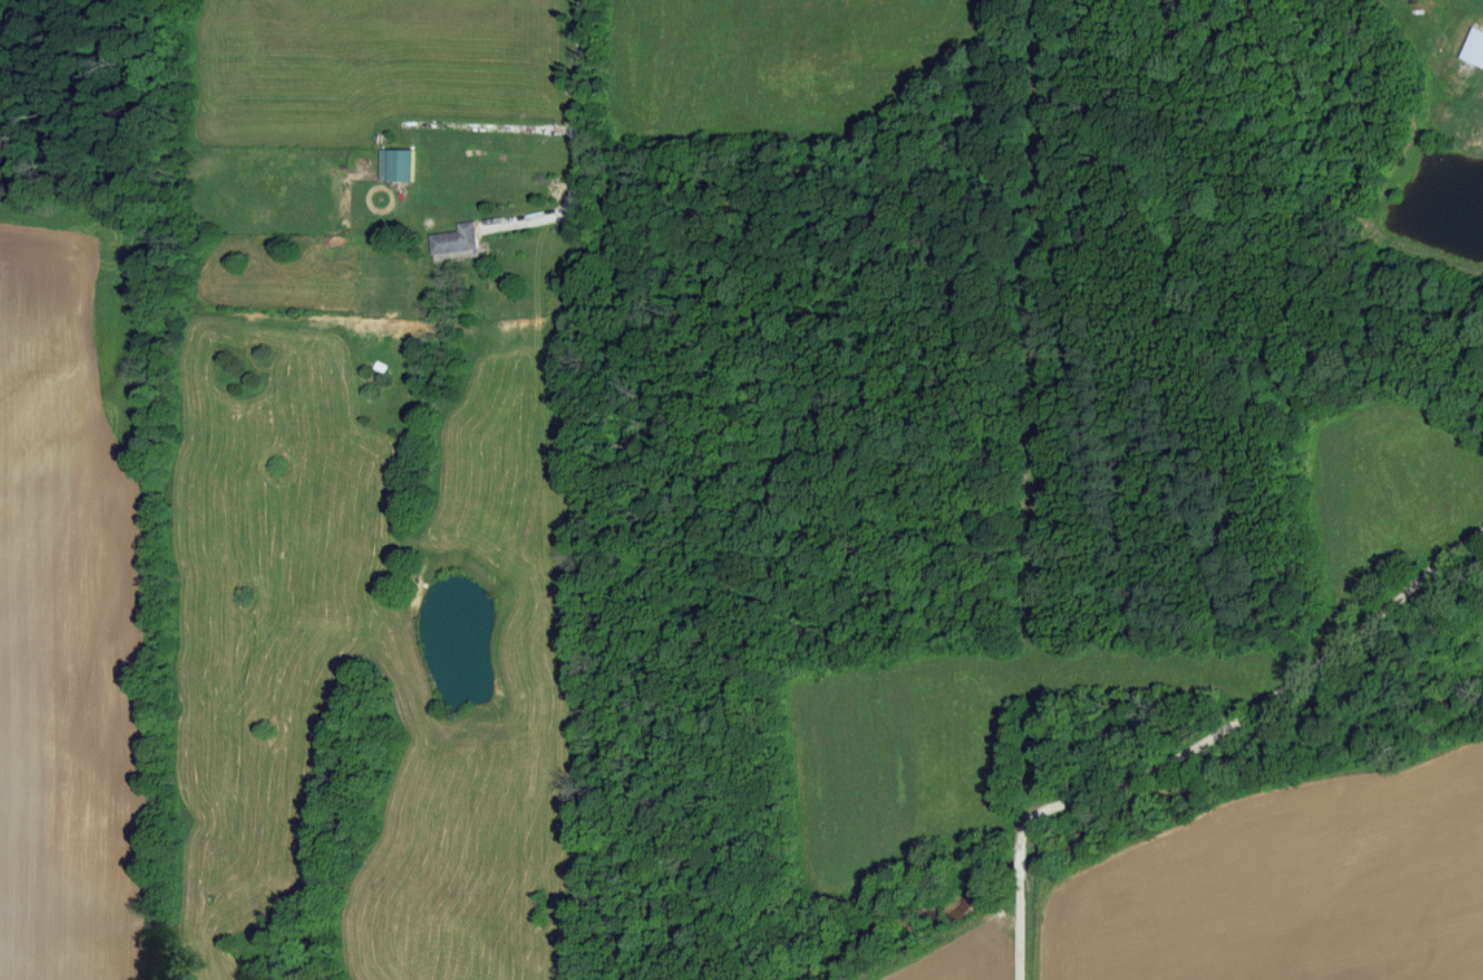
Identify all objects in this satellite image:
building: (1474, 46)
building: (396, 163)
building: (455, 238)
road: (1201, 742)

